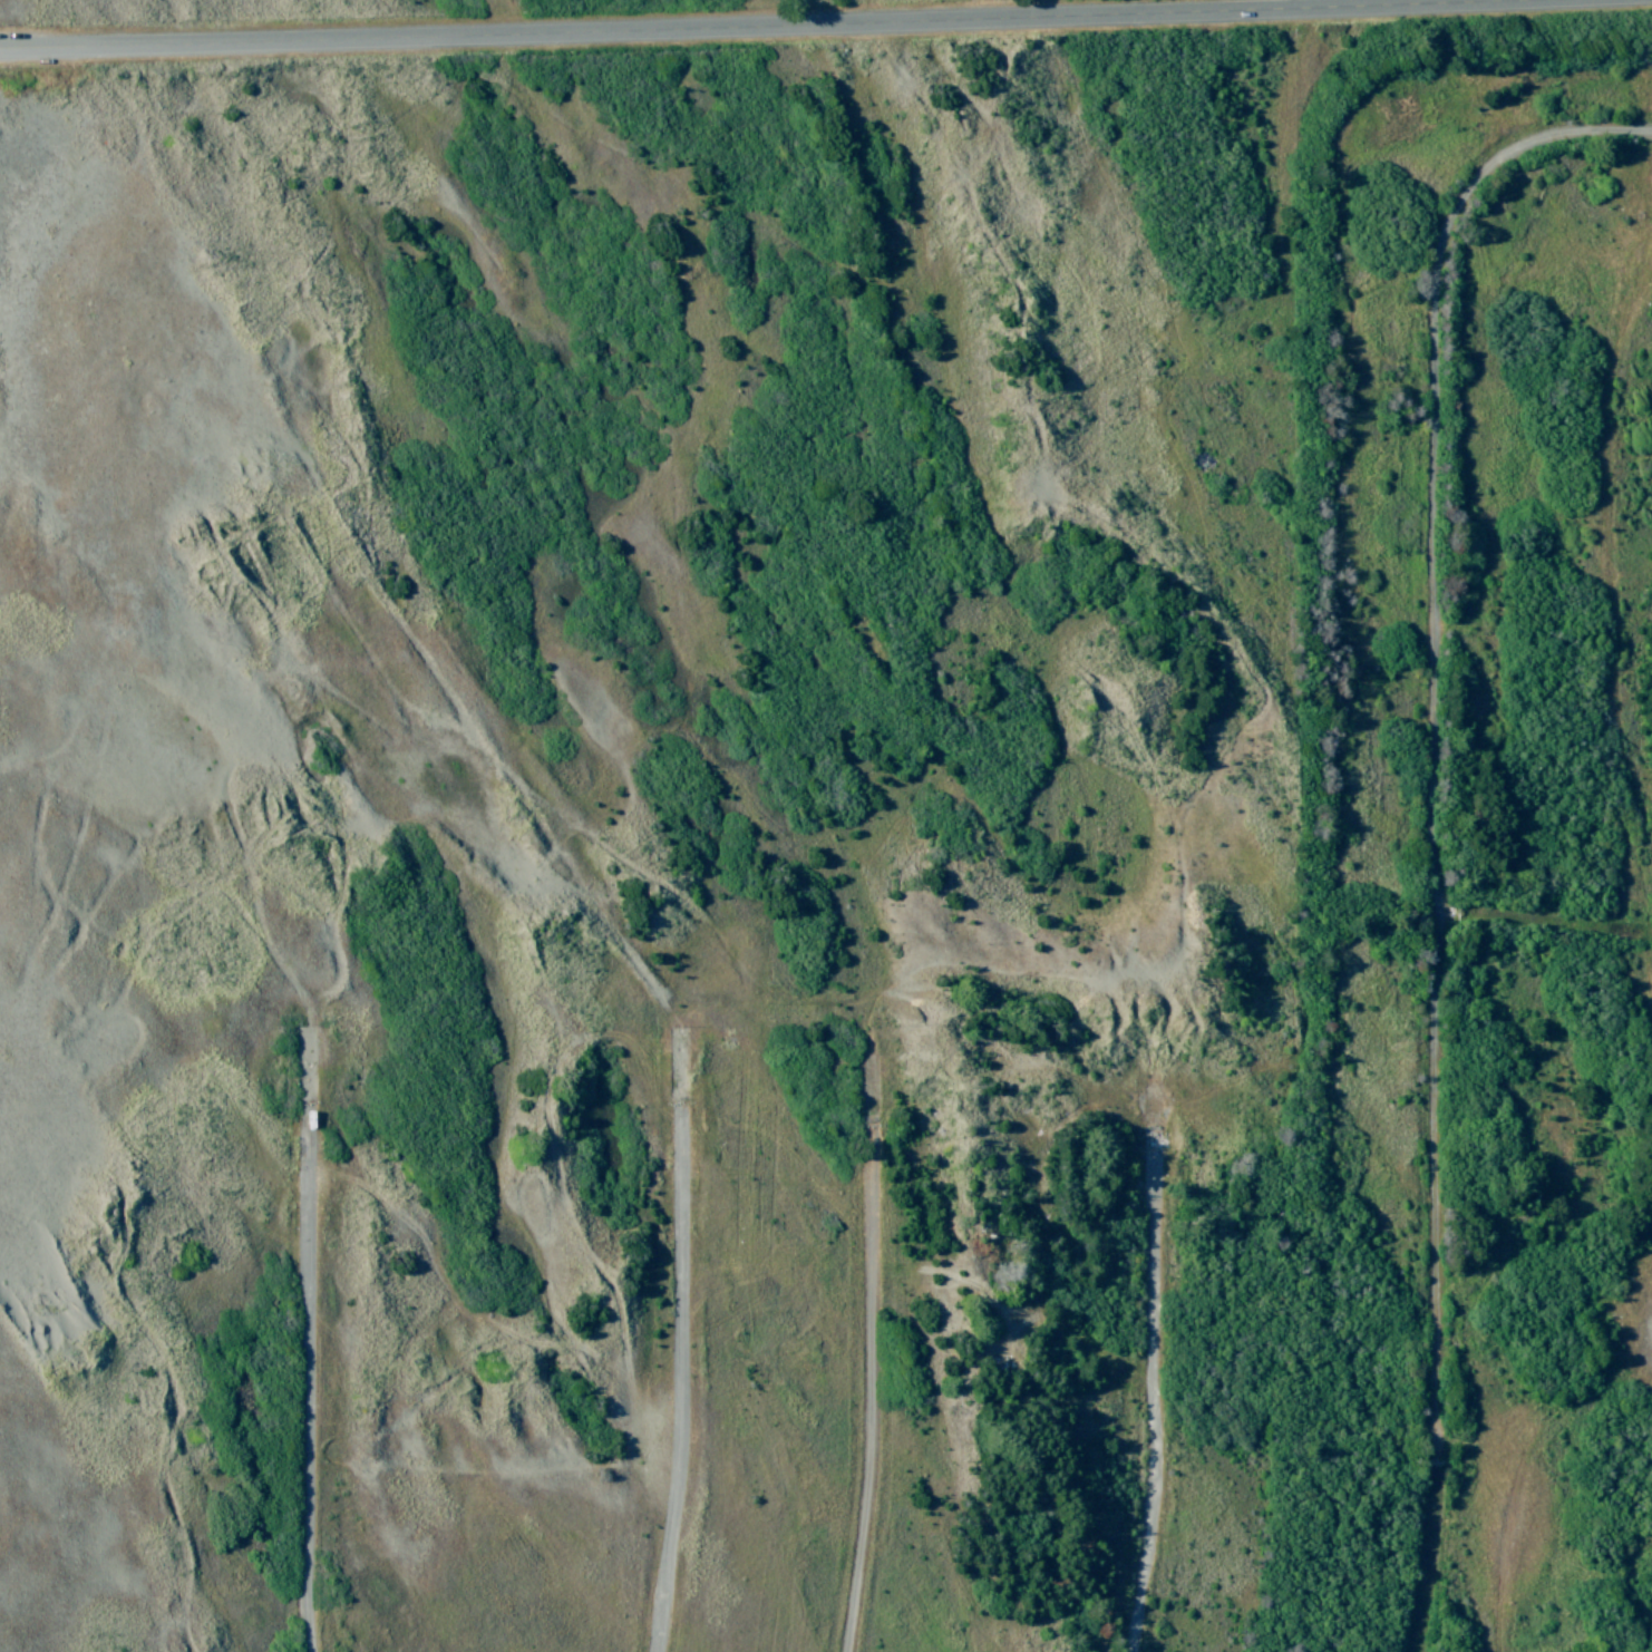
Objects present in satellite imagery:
road: (733, 29)
road: (1440, 818)
road: (1546, 923)
road: (310, 1335)
road: (682, 1344)
road: (875, 1353)
road: (1156, 1379)

